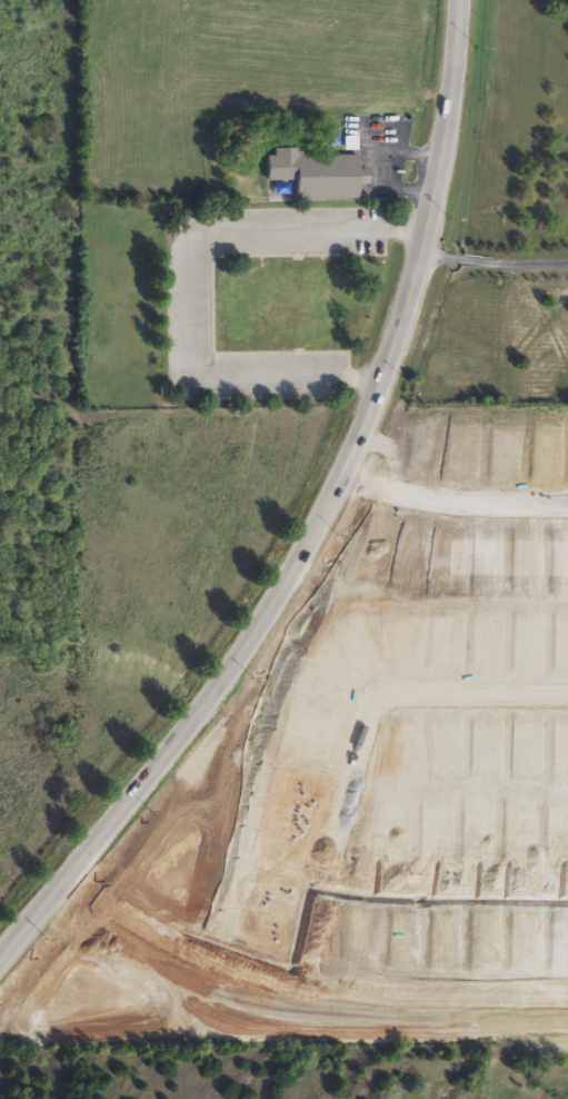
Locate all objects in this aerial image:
building: (316, 176)
road: (497, 258)
road: (191, 277)
road: (455, 503)
road: (325, 522)
road: (444, 691)
building: (521, 692)
road: (272, 844)
road: (413, 900)
road: (292, 1012)

